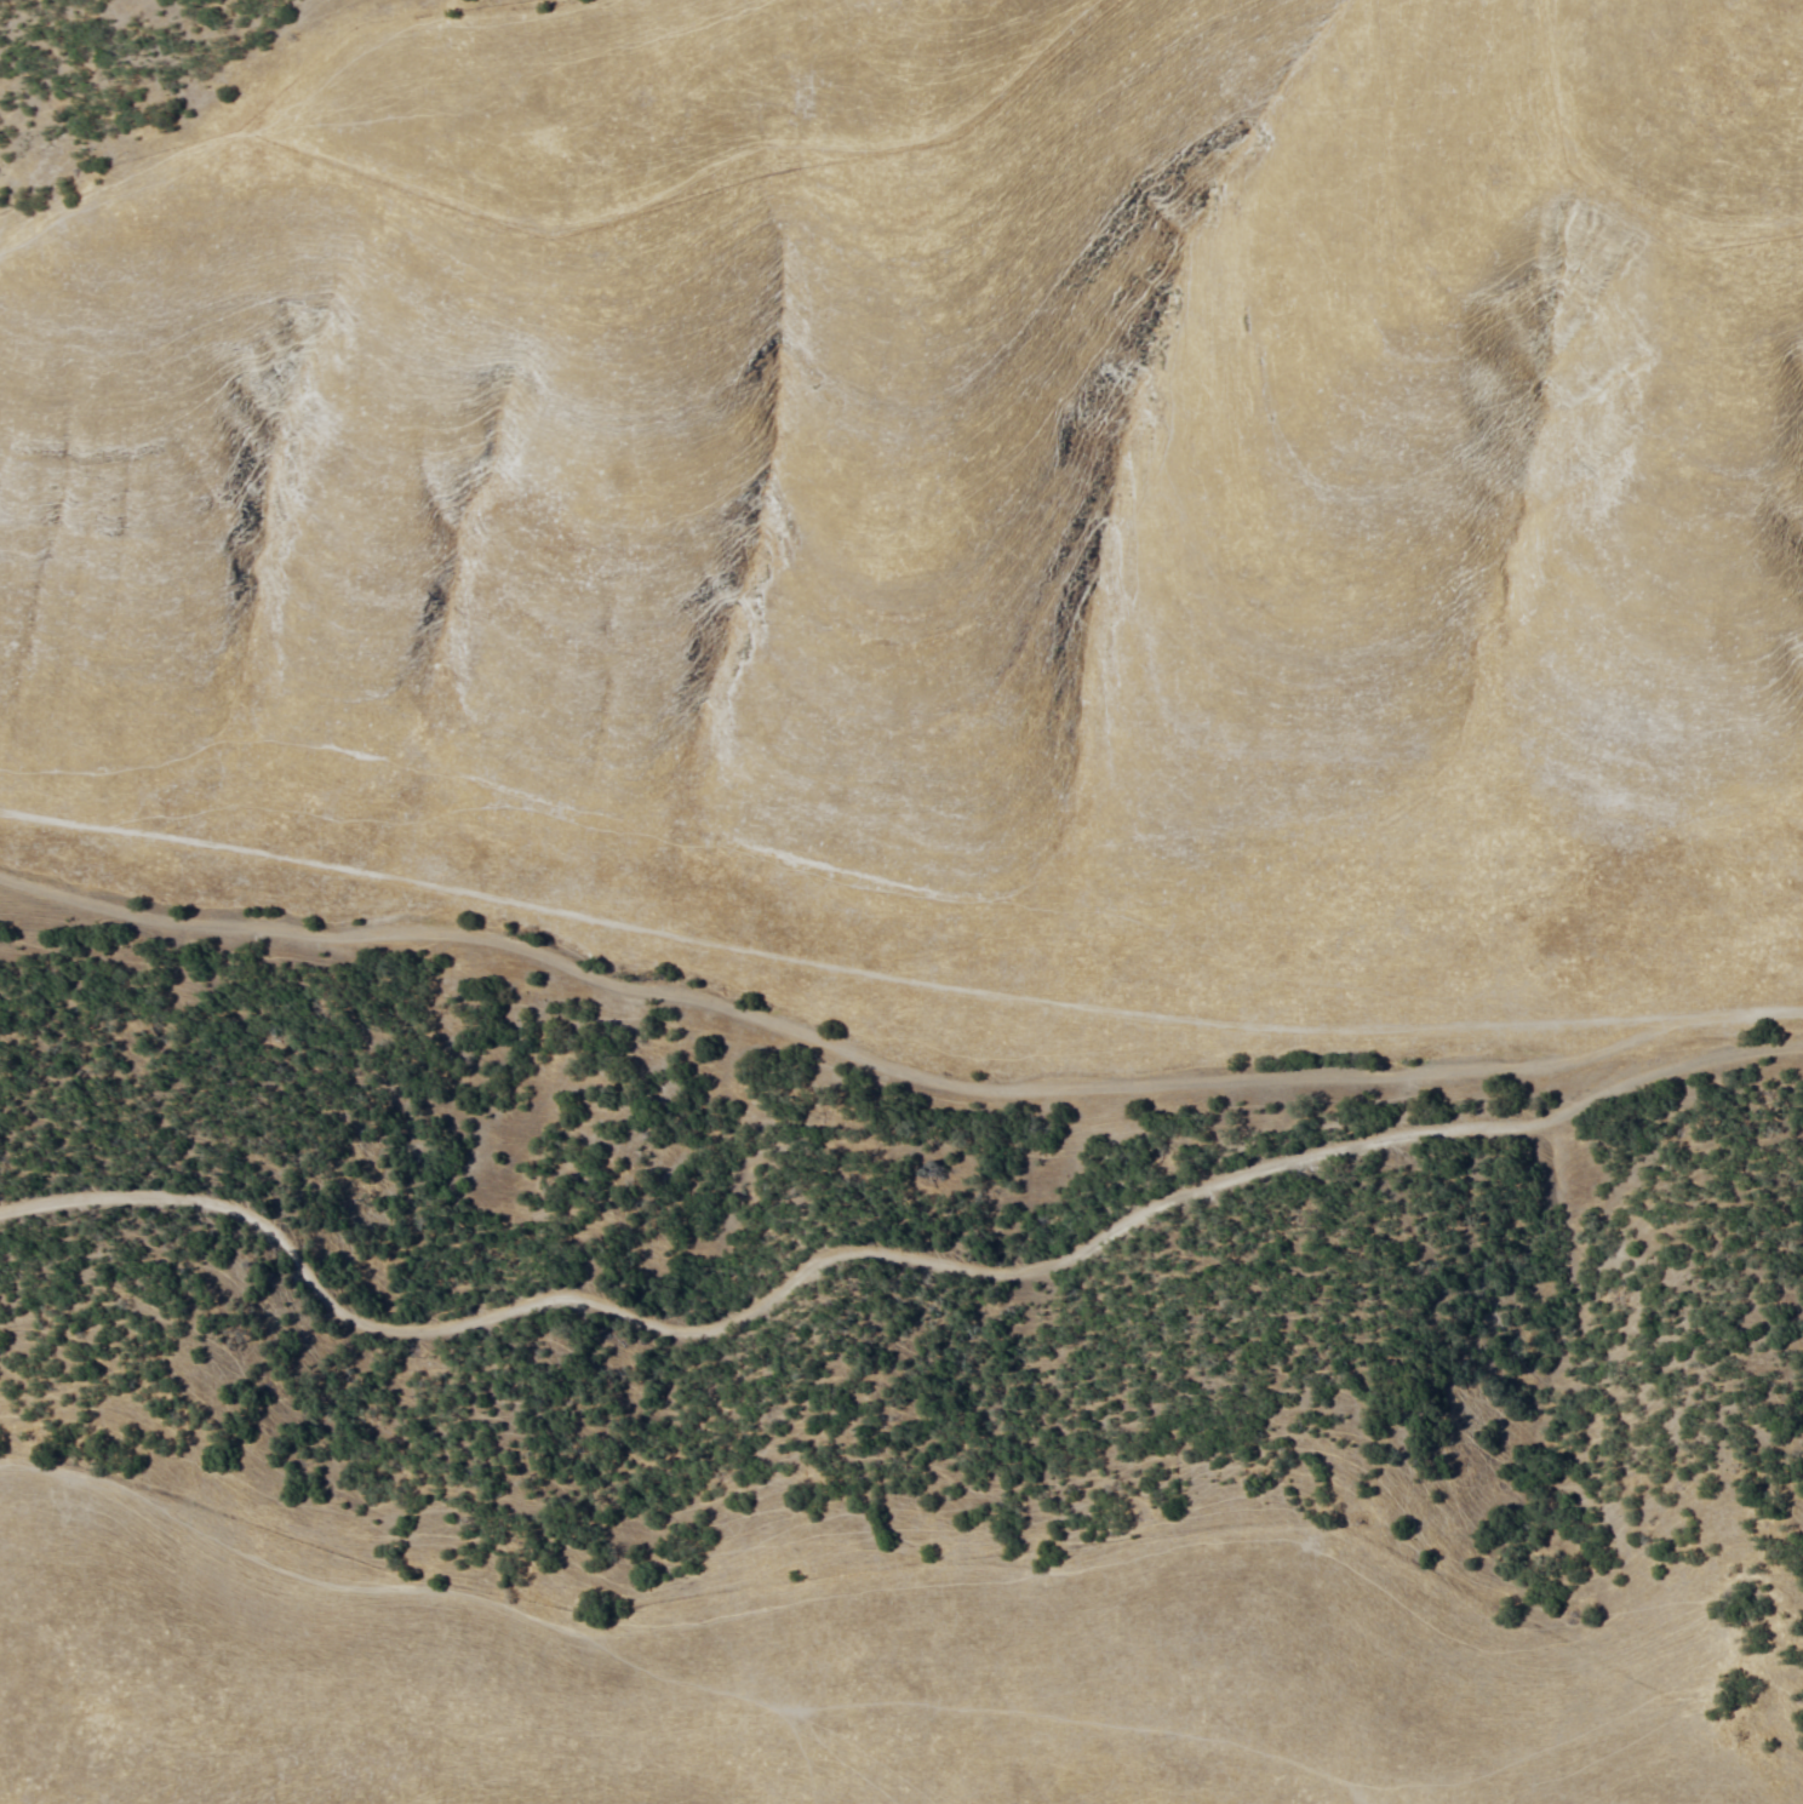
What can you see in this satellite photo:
road: (899, 1073)
road: (898, 1283)

